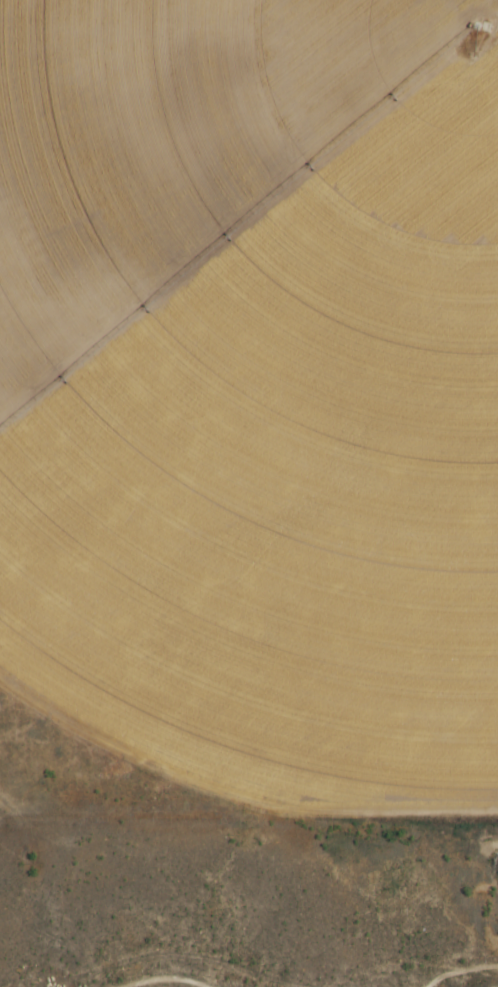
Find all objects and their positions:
road: (462, 970)
road: (168, 980)

